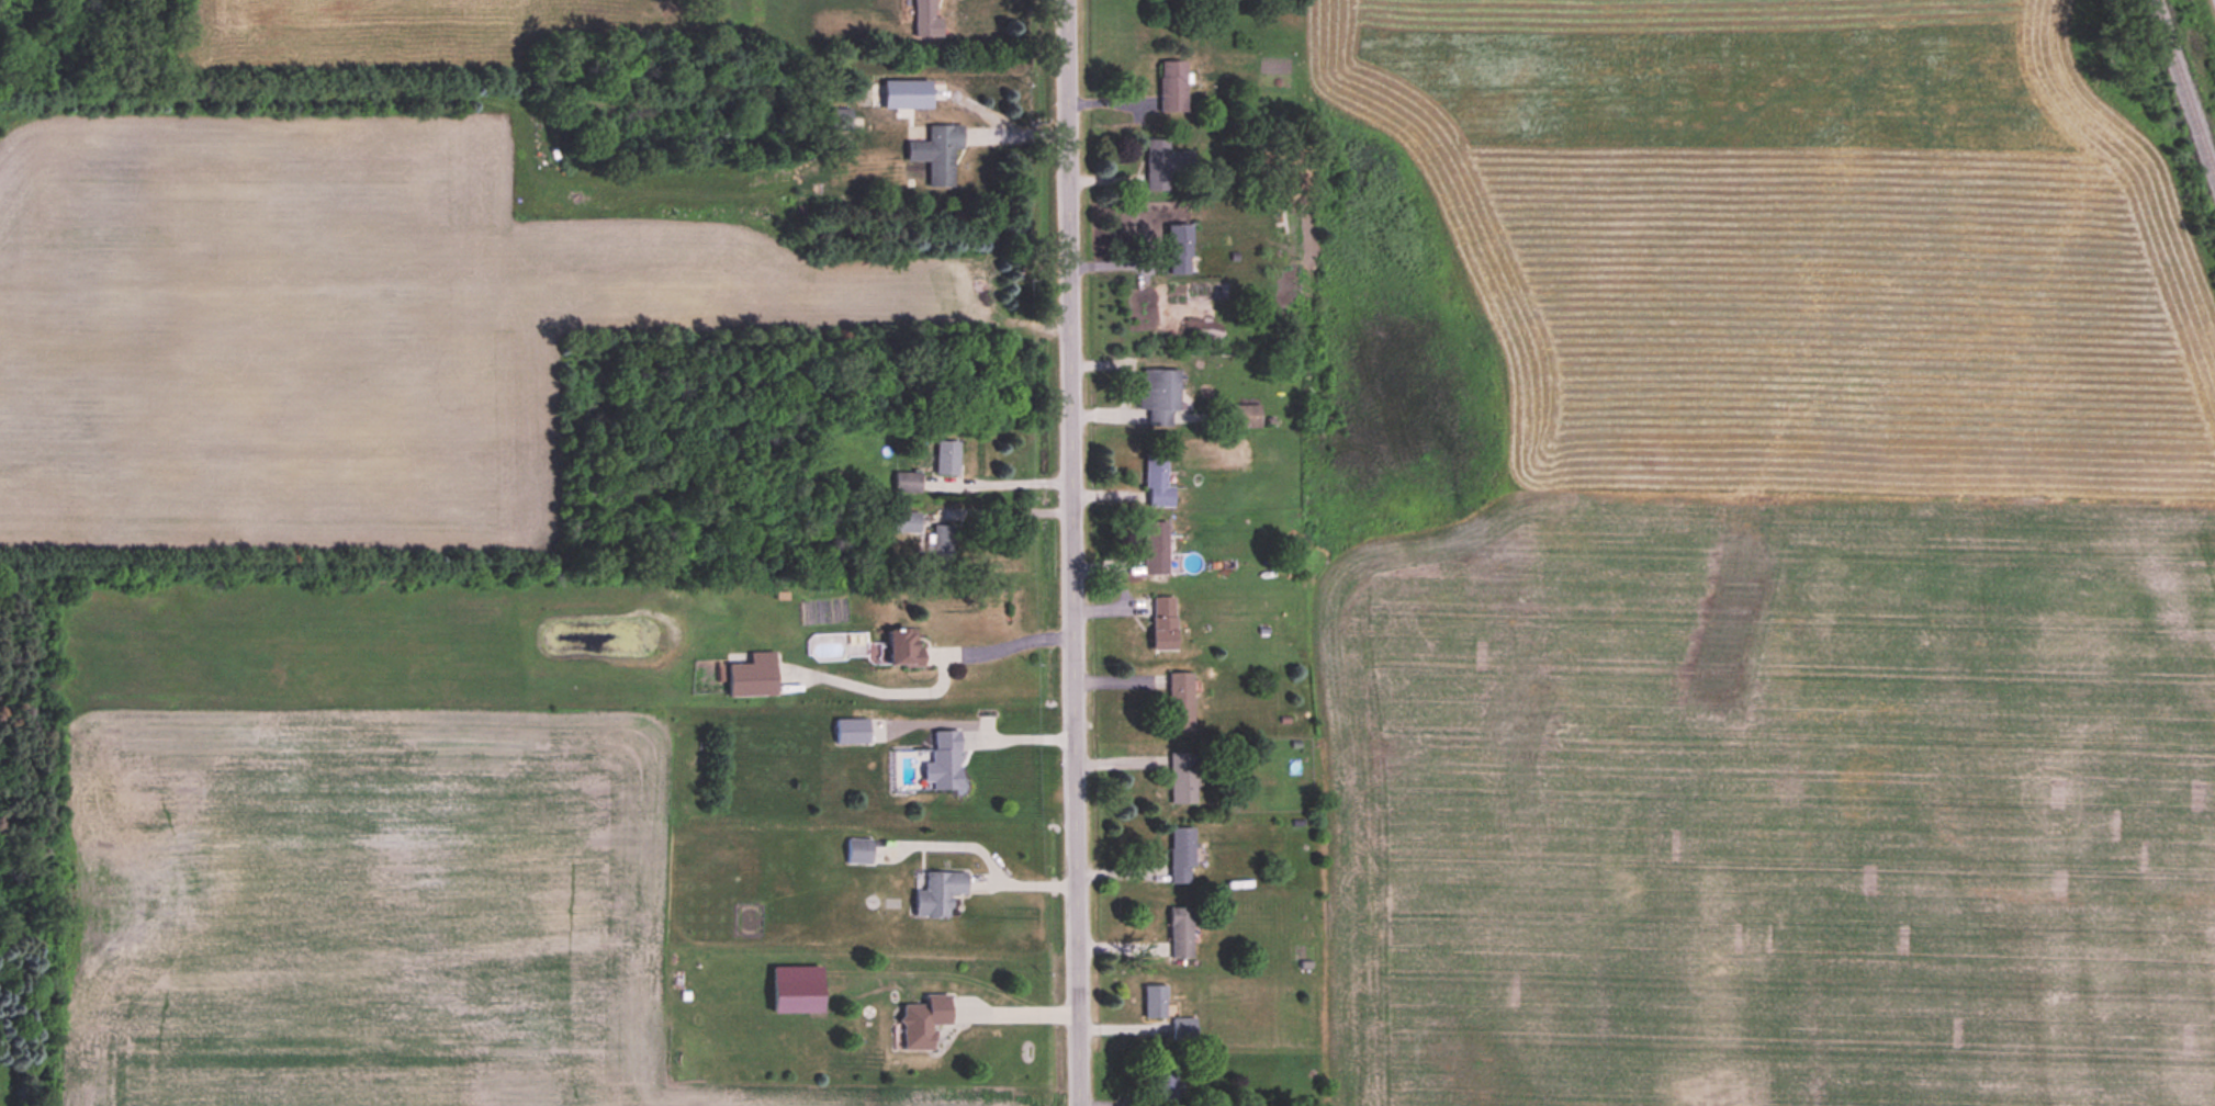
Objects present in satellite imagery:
road: (2213, 3)
building: (926, 20)
building: (1172, 87)
railway: (2182, 92)
building: (841, 120)
building: (937, 154)
building: (1163, 166)
building: (1180, 250)
building: (1160, 395)
building: (1244, 417)
building: (947, 458)
building: (908, 483)
building: (1157, 483)
building: (907, 522)
building: (943, 543)
building: (1155, 549)
road: (1073, 553)
building: (1163, 624)
road: (1009, 647)
building: (902, 650)
building: (753, 678)
building: (1180, 703)
building: (854, 732)
road: (1016, 733)
building: (946, 761)
building: (1182, 779)
building: (859, 853)
building: (1181, 857)
road: (1020, 879)
building: (938, 894)
building: (1181, 934)
building: (1155, 1003)
road: (1017, 1009)
building: (923, 1023)
building: (1182, 1029)
building: (1163, 1083)

